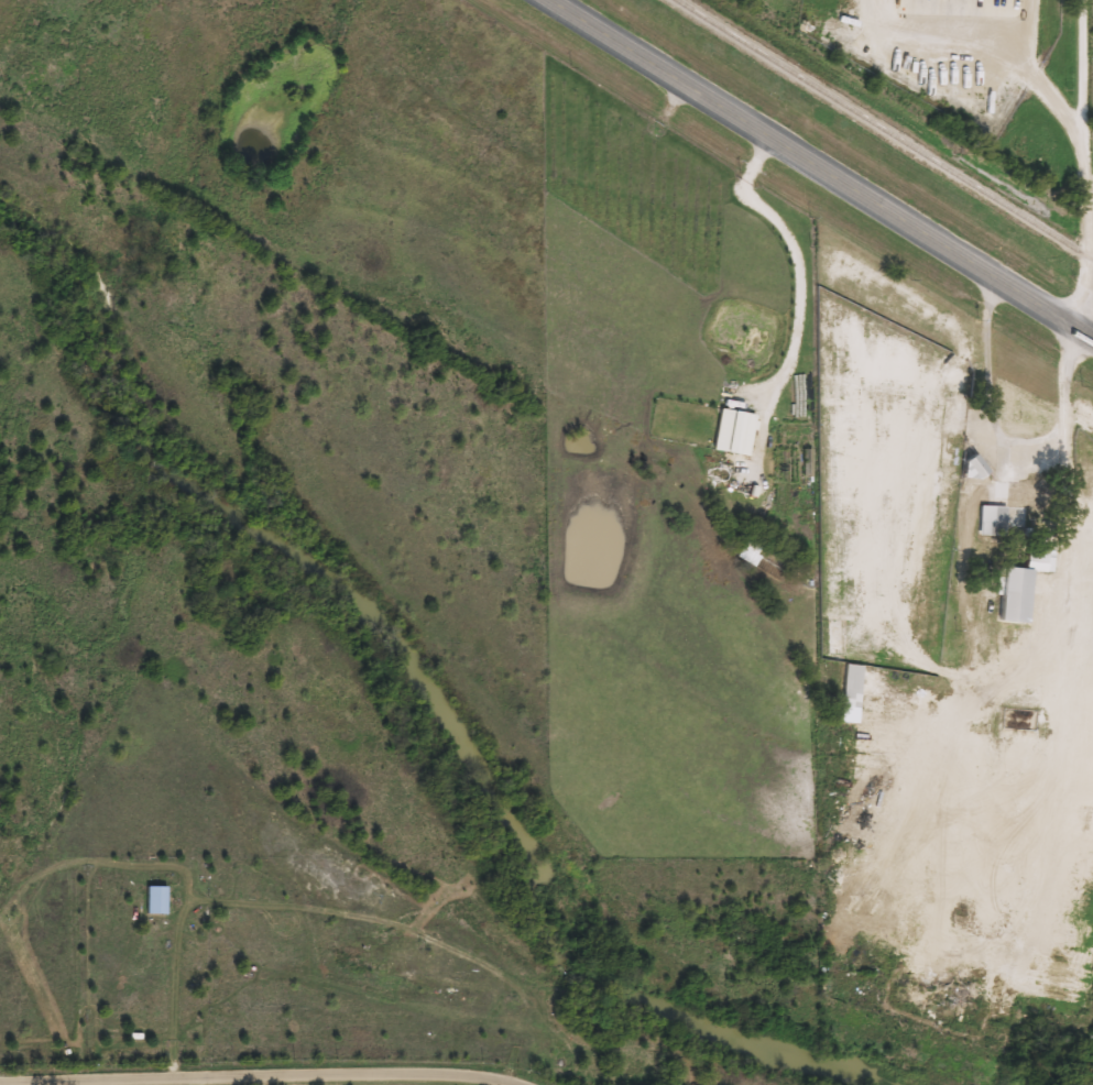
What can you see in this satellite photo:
road: (996, 10)
road: (931, 13)
road: (1035, 76)
railway: (885, 130)
road: (1085, 165)
road: (816, 171)
road: (1090, 204)
road: (798, 259)
road: (1080, 410)
building: (732, 434)
road: (1002, 443)
building: (969, 470)
building: (1009, 506)
building: (1018, 587)
building: (849, 695)
building: (154, 900)
road: (168, 1002)
road: (251, 1081)

